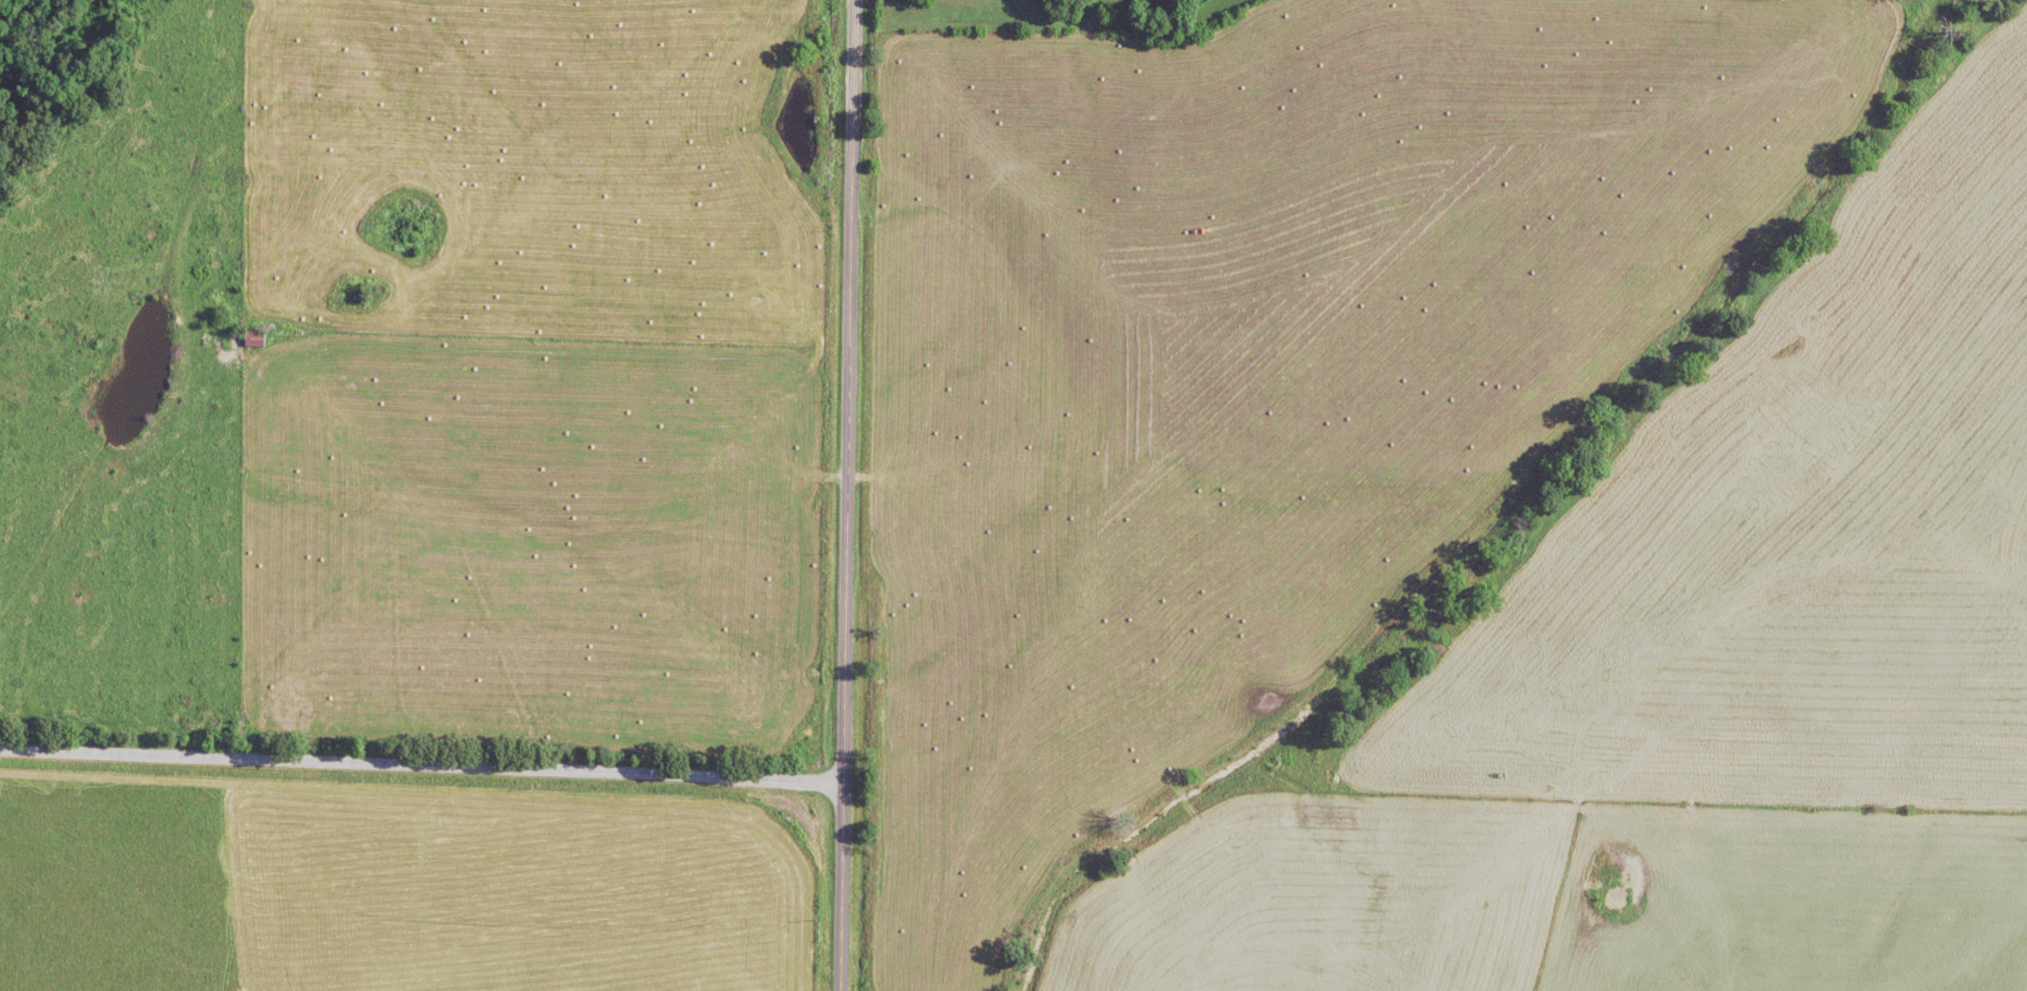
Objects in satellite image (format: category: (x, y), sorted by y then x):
building: (254, 343)
road: (846, 495)
road: (421, 769)

